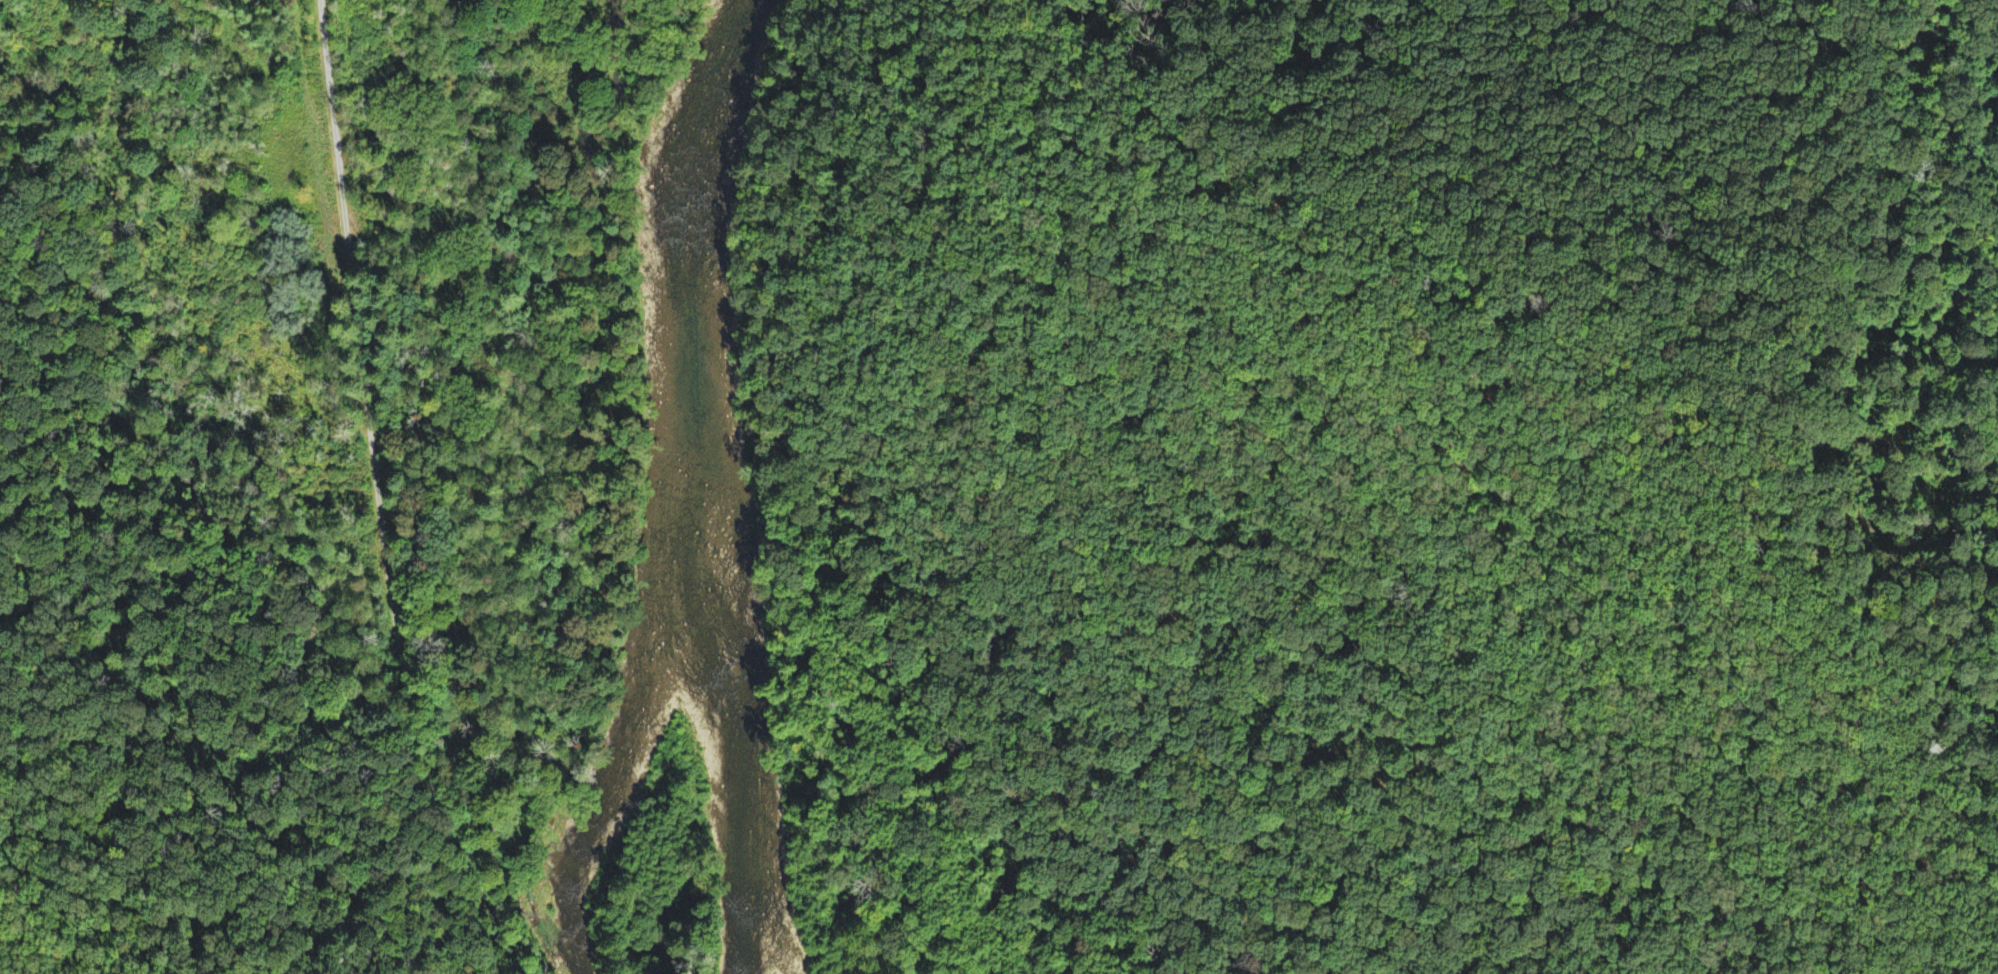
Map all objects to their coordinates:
road: (307, 124)
river: (692, 498)
road: (376, 499)

